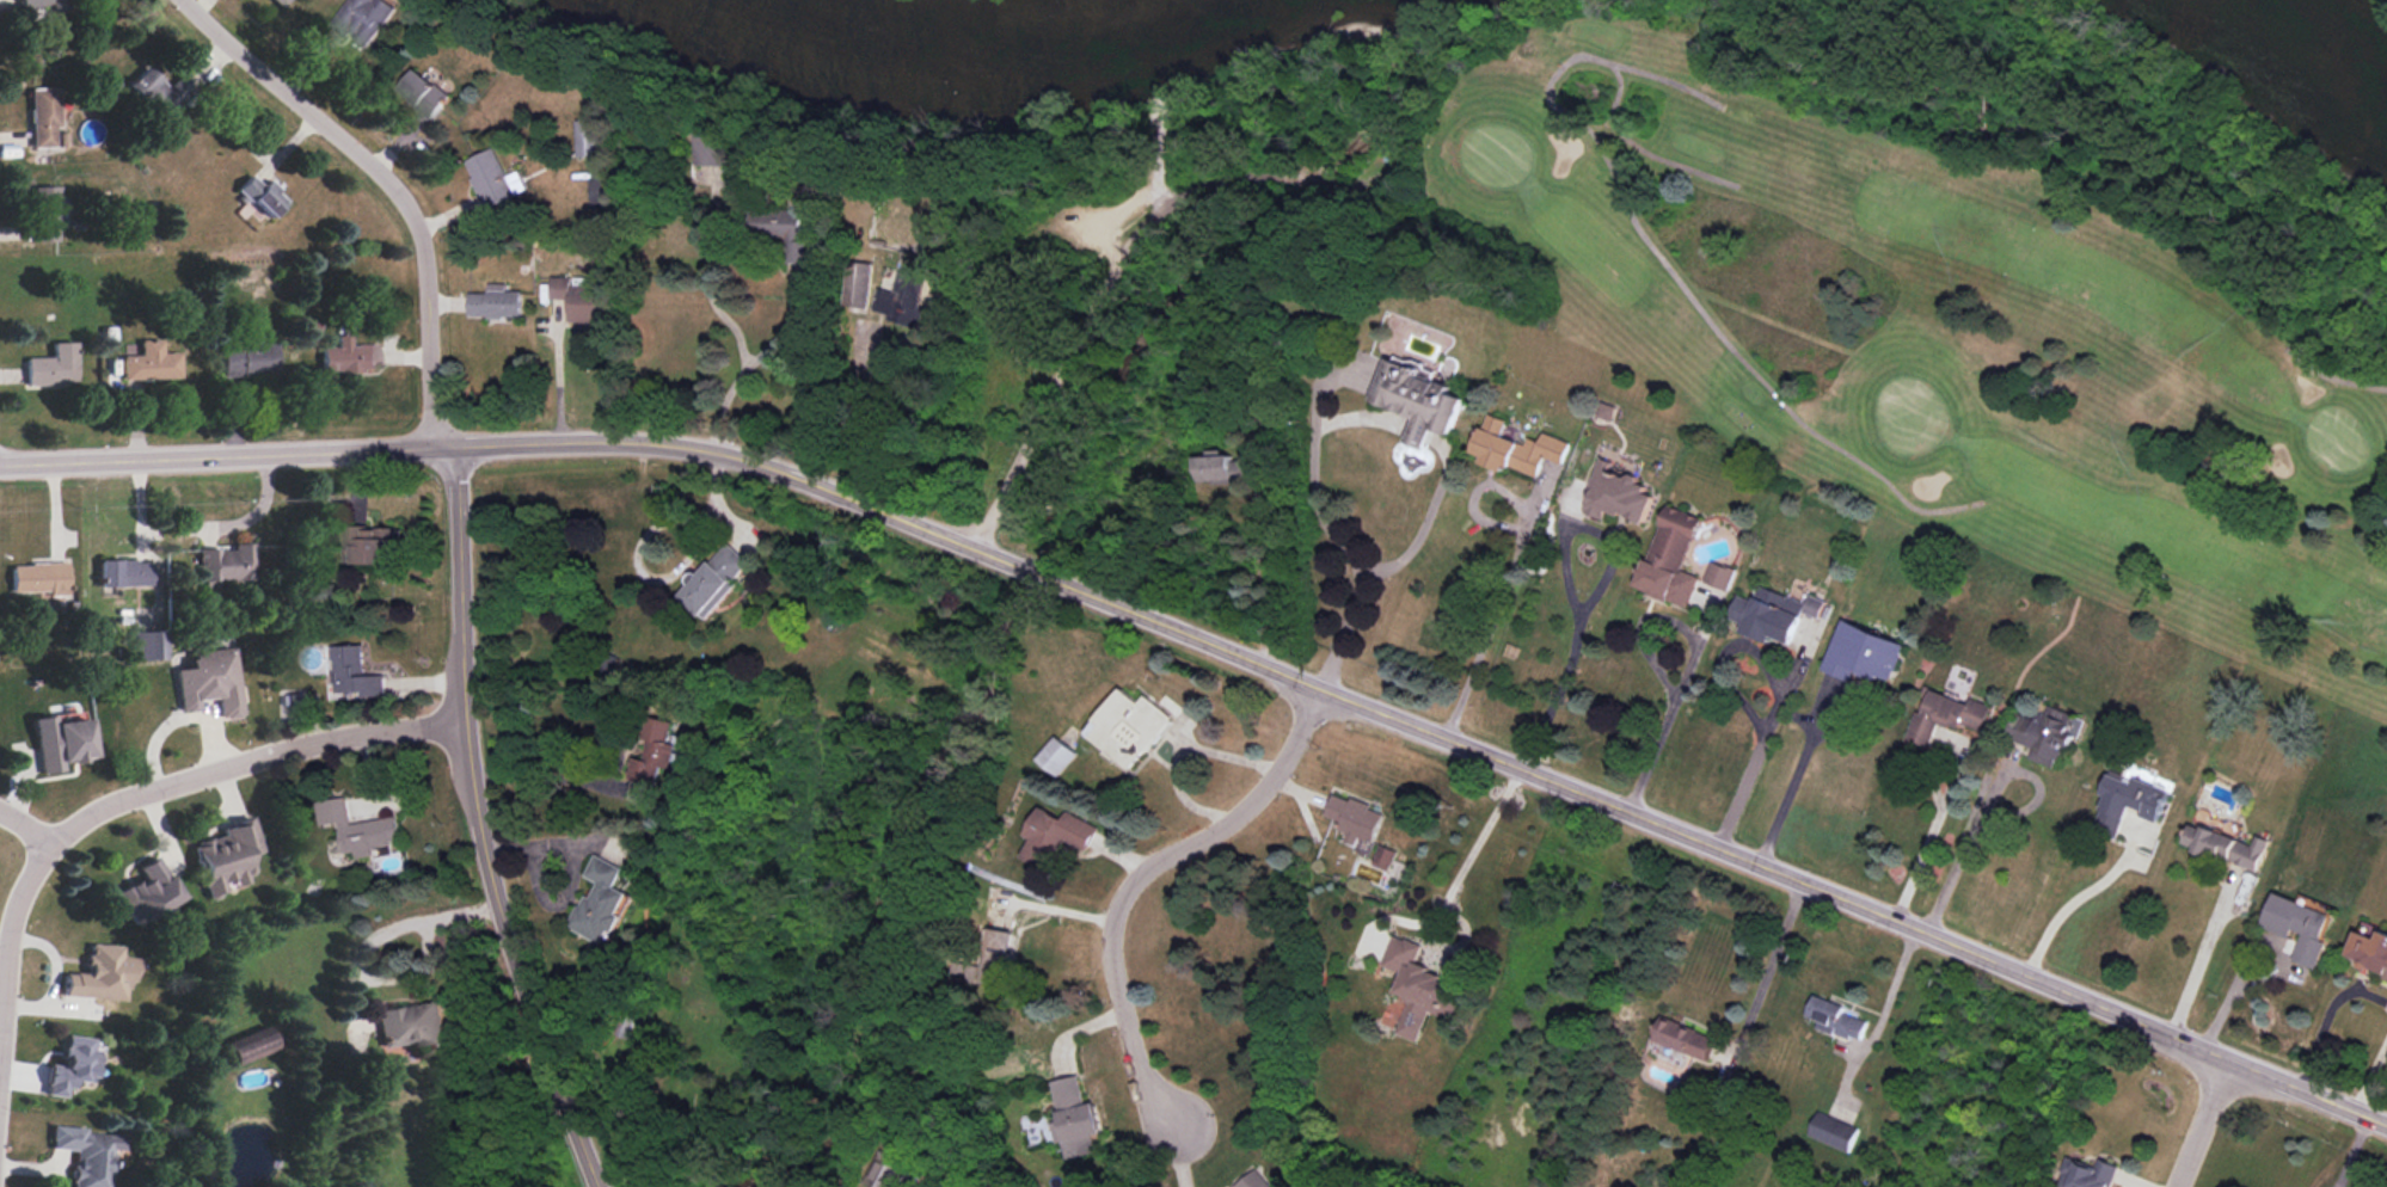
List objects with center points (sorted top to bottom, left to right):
building: (41, 4)
building: (280, 4)
building: (364, 20)
river: (989, 36)
river: (2322, 37)
building: (161, 94)
building: (425, 96)
building: (44, 118)
building: (593, 140)
building: (722, 148)
road: (1158, 159)
road: (1233, 179)
building: (492, 180)
road: (383, 182)
building: (264, 198)
building: (49, 216)
building: (781, 232)
park: (1988, 264)
road: (710, 275)
road: (1001, 281)
building: (857, 284)
building: (578, 300)
building: (902, 300)
building: (497, 305)
park: (1154, 312)
road: (1088, 318)
building: (246, 357)
building: (350, 358)
building: (149, 362)
road: (751, 362)
building: (54, 368)
road: (557, 375)
building: (1419, 398)
building: (1607, 411)
road: (863, 414)
road: (1360, 419)
road: (1410, 429)
road: (1422, 436)
building: (1517, 448)
road: (1314, 466)
building: (1223, 469)
building: (1618, 494)
road: (1420, 518)
road: (637, 542)
building: (369, 545)
building: (1669, 559)
building: (222, 565)
building: (119, 572)
building: (1719, 576)
building: (38, 578)
building: (716, 580)
road: (1590, 591)
road: (1495, 602)
building: (1772, 614)
road: (1639, 628)
road: (1338, 634)
building: (146, 645)
road: (1221, 647)
building: (1861, 653)
road: (1724, 654)
building: (352, 672)
building: (210, 682)
road: (1667, 701)
building: (1944, 715)
building: (1130, 727)
building: (2043, 733)
road: (1759, 736)
building: (60, 742)
building: (656, 754)
road: (1180, 756)
building: (1061, 757)
road: (1791, 774)
road: (165, 785)
road: (593, 787)
road: (1982, 793)
building: (2128, 802)
building: (1357, 820)
road: (478, 824)
road: (24, 829)
building: (362, 829)
building: (1057, 837)
road: (1472, 847)
road: (1920, 847)
building: (2223, 847)
building: (226, 859)
building: (1386, 859)
road: (571, 871)
road: (1134, 878)
building: (147, 893)
road: (2076, 898)
building: (602, 903)
building: (2296, 925)
road: (379, 935)
building: (2369, 947)
road: (2198, 953)
building: (998, 954)
road: (1765, 968)
building: (100, 976)
building: (1417, 988)
road: (1885, 1016)
building: (1835, 1019)
road: (2328, 1020)
building: (410, 1025)
building: (1682, 1038)
building: (252, 1050)
building: (72, 1066)
road: (2371, 1080)
building: (1076, 1121)
road: (2201, 1121)
building: (1830, 1132)
road: (2349, 1150)
building: (87, 1154)
building: (890, 1174)
building: (2090, 1174)
building: (1251, 1180)

